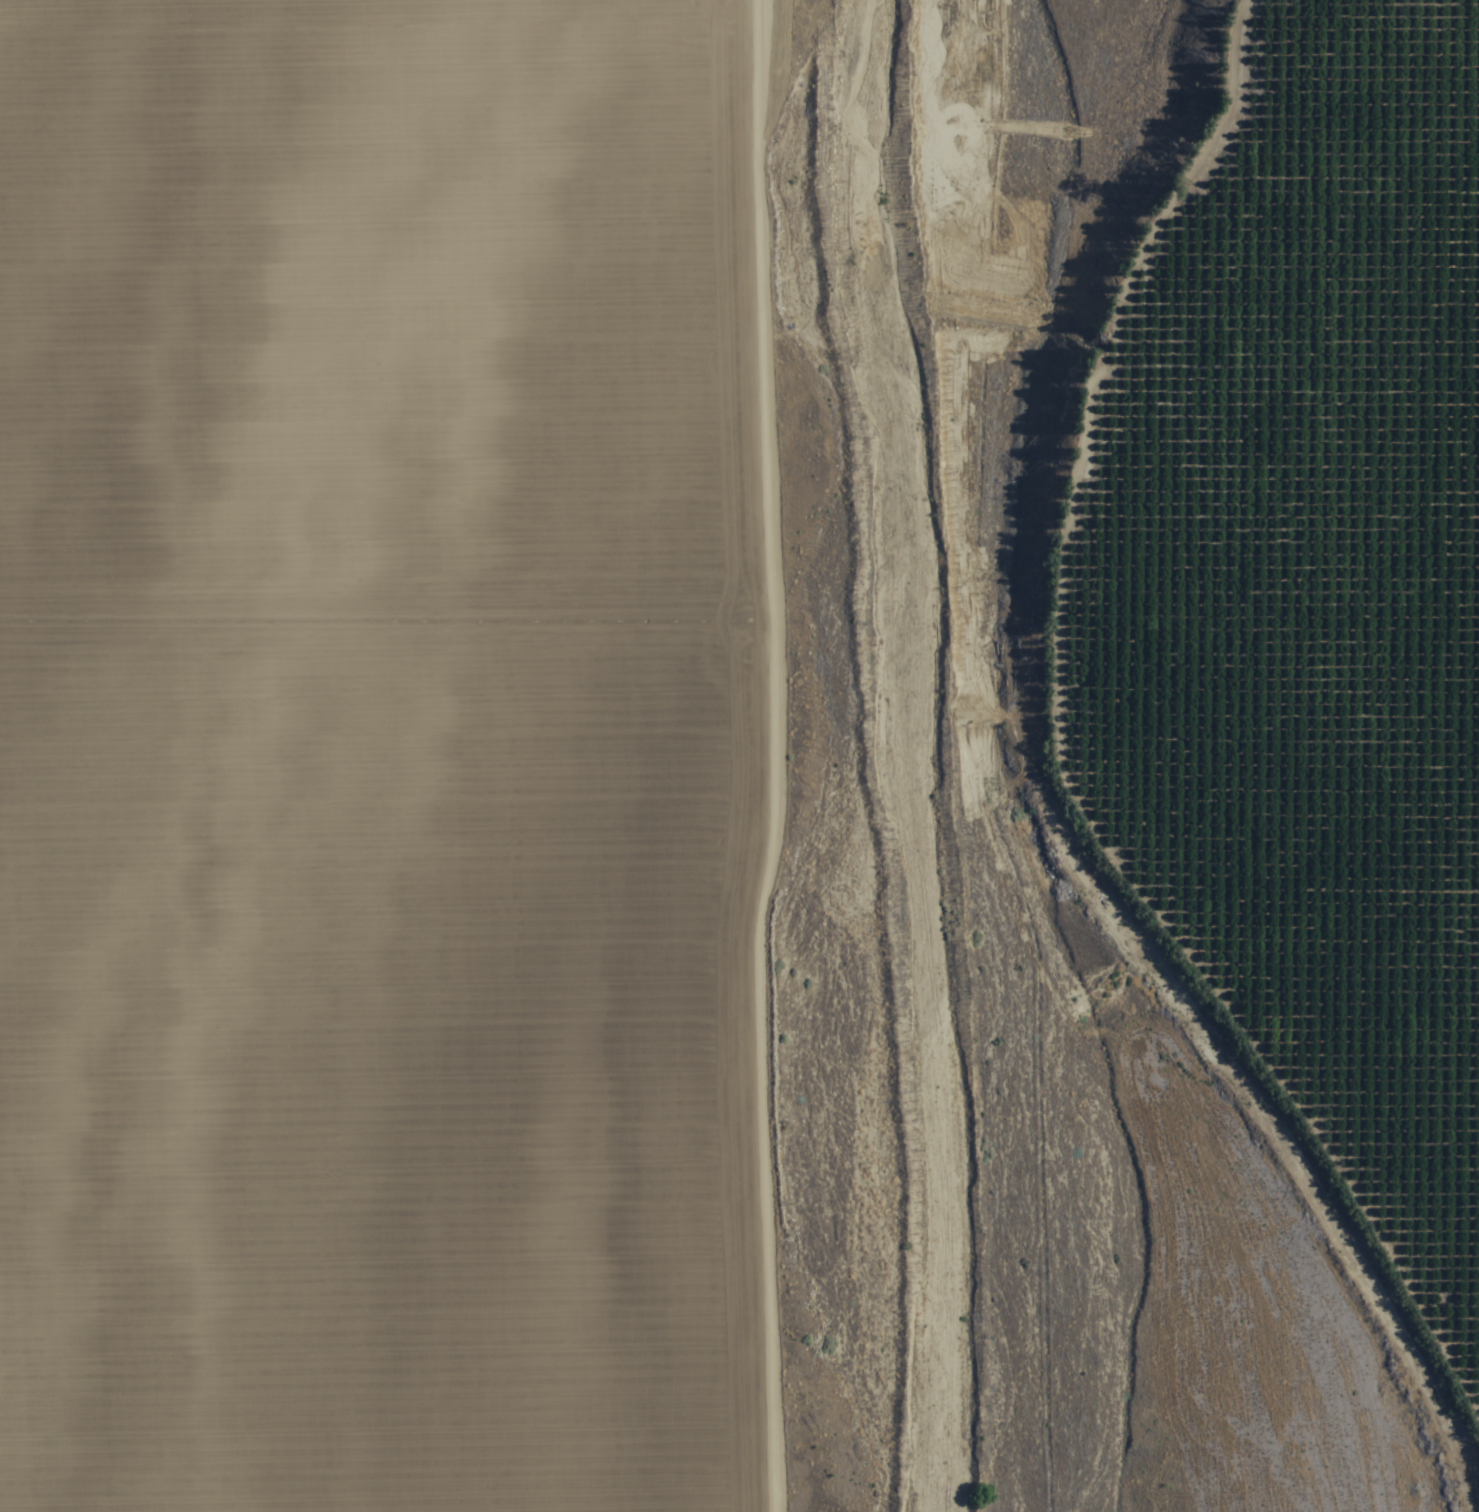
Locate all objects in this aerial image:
building: (1255, 35)
building: (1373, 236)
building: (1353, 244)
building: (1354, 289)
building: (1391, 368)
crop: (1290, 605)
building: (1324, 616)
crop: (385, 753)
road: (982, 816)
road: (902, 1141)
wastewater plant: (1098, 1486)

